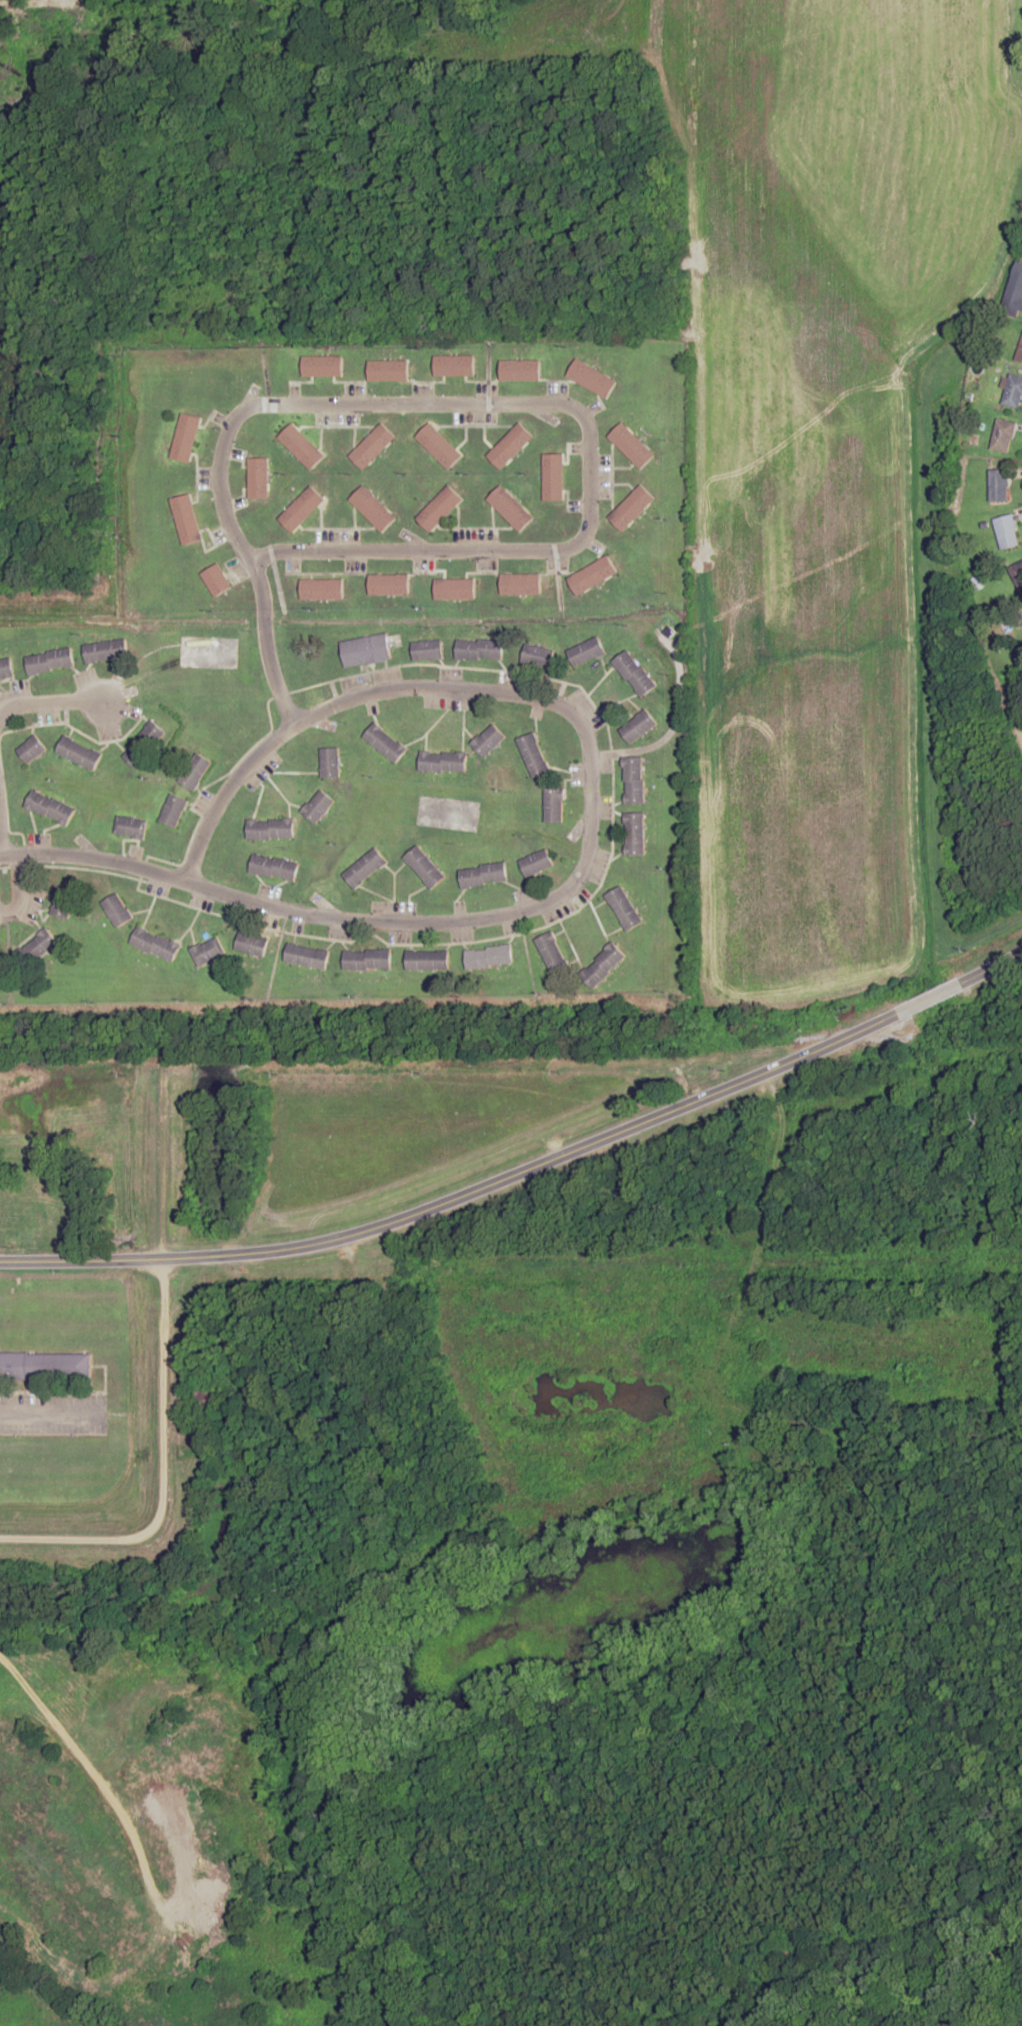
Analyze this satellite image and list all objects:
building: (1014, 292)
building: (1019, 353)
building: (453, 365)
building: (322, 366)
building: (519, 370)
building: (388, 371)
building: (592, 379)
building: (1012, 392)
road: (485, 405)
building: (1002, 436)
building: (186, 438)
building: (301, 446)
building: (372, 446)
building: (438, 446)
building: (510, 446)
building: (631, 446)
building: (552, 477)
building: (257, 478)
building: (997, 485)
building: (631, 508)
building: (301, 509)
building: (372, 509)
building: (438, 509)
building: (510, 509)
building: (186, 520)
building: (1005, 532)
building: (591, 576)
building: (216, 580)
building: (388, 584)
building: (520, 584)
building: (321, 589)
building: (454, 589)
road: (265, 646)
building: (426, 649)
building: (479, 649)
building: (365, 651)
building: (103, 652)
building: (586, 652)
building: (537, 656)
building: (50, 662)
building: (6, 669)
building: (633, 673)
road: (54, 702)
building: (637, 727)
building: (488, 741)
building: (384, 743)
building: (143, 745)
building: (32, 750)
building: (78, 754)
building: (532, 756)
road: (587, 758)
building: (442, 762)
building: (329, 763)
building: (194, 772)
building: (632, 780)
building: (552, 804)
building: (317, 807)
building: (49, 808)
building: (172, 811)
building: (129, 828)
building: (270, 829)
building: (633, 834)
road: (94, 858)
building: (534, 863)
building: (273, 868)
building: (423, 868)
building: (364, 869)
building: (481, 875)
road: (19, 887)
building: (61, 905)
building: (621, 909)
building: (116, 910)
building: (154, 944)
building: (251, 944)
building: (35, 949)
building: (207, 952)
building: (550, 953)
building: (303, 955)
building: (487, 957)
building: (366, 959)
building: (426, 960)
building: (601, 965)
railway: (511, 1040)
road: (527, 1167)
road: (228, 1325)
building: (45, 1365)
road: (162, 1373)
road: (99, 1783)

